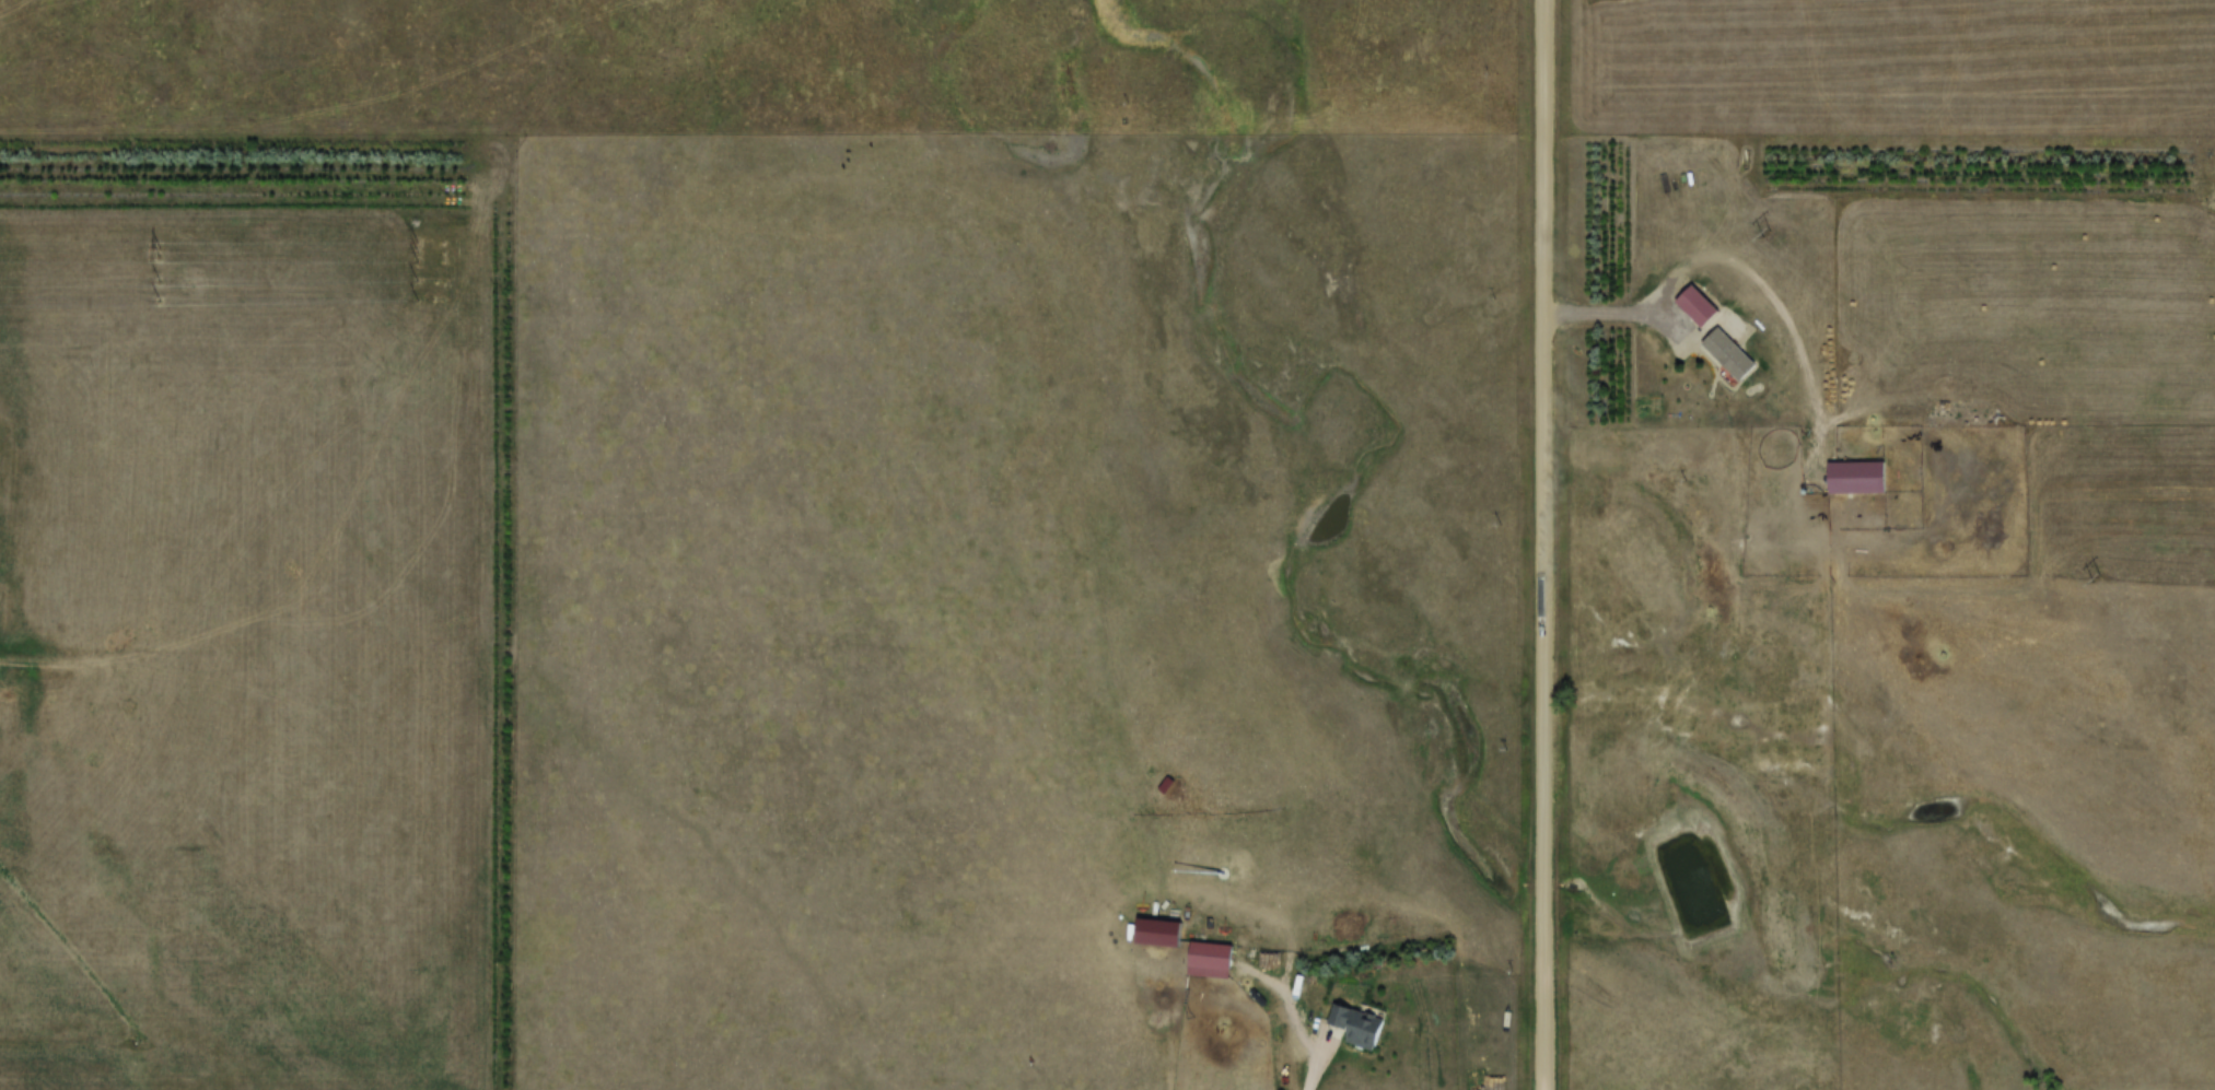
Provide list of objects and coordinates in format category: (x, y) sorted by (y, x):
power tower: (1765, 234)
building: (1689, 300)
building: (1729, 353)
building: (1847, 470)
road: (1542, 544)
power tower: (2095, 579)
wind turbine: (1213, 865)
building: (1147, 925)
building: (1201, 949)
building: (1360, 1024)

